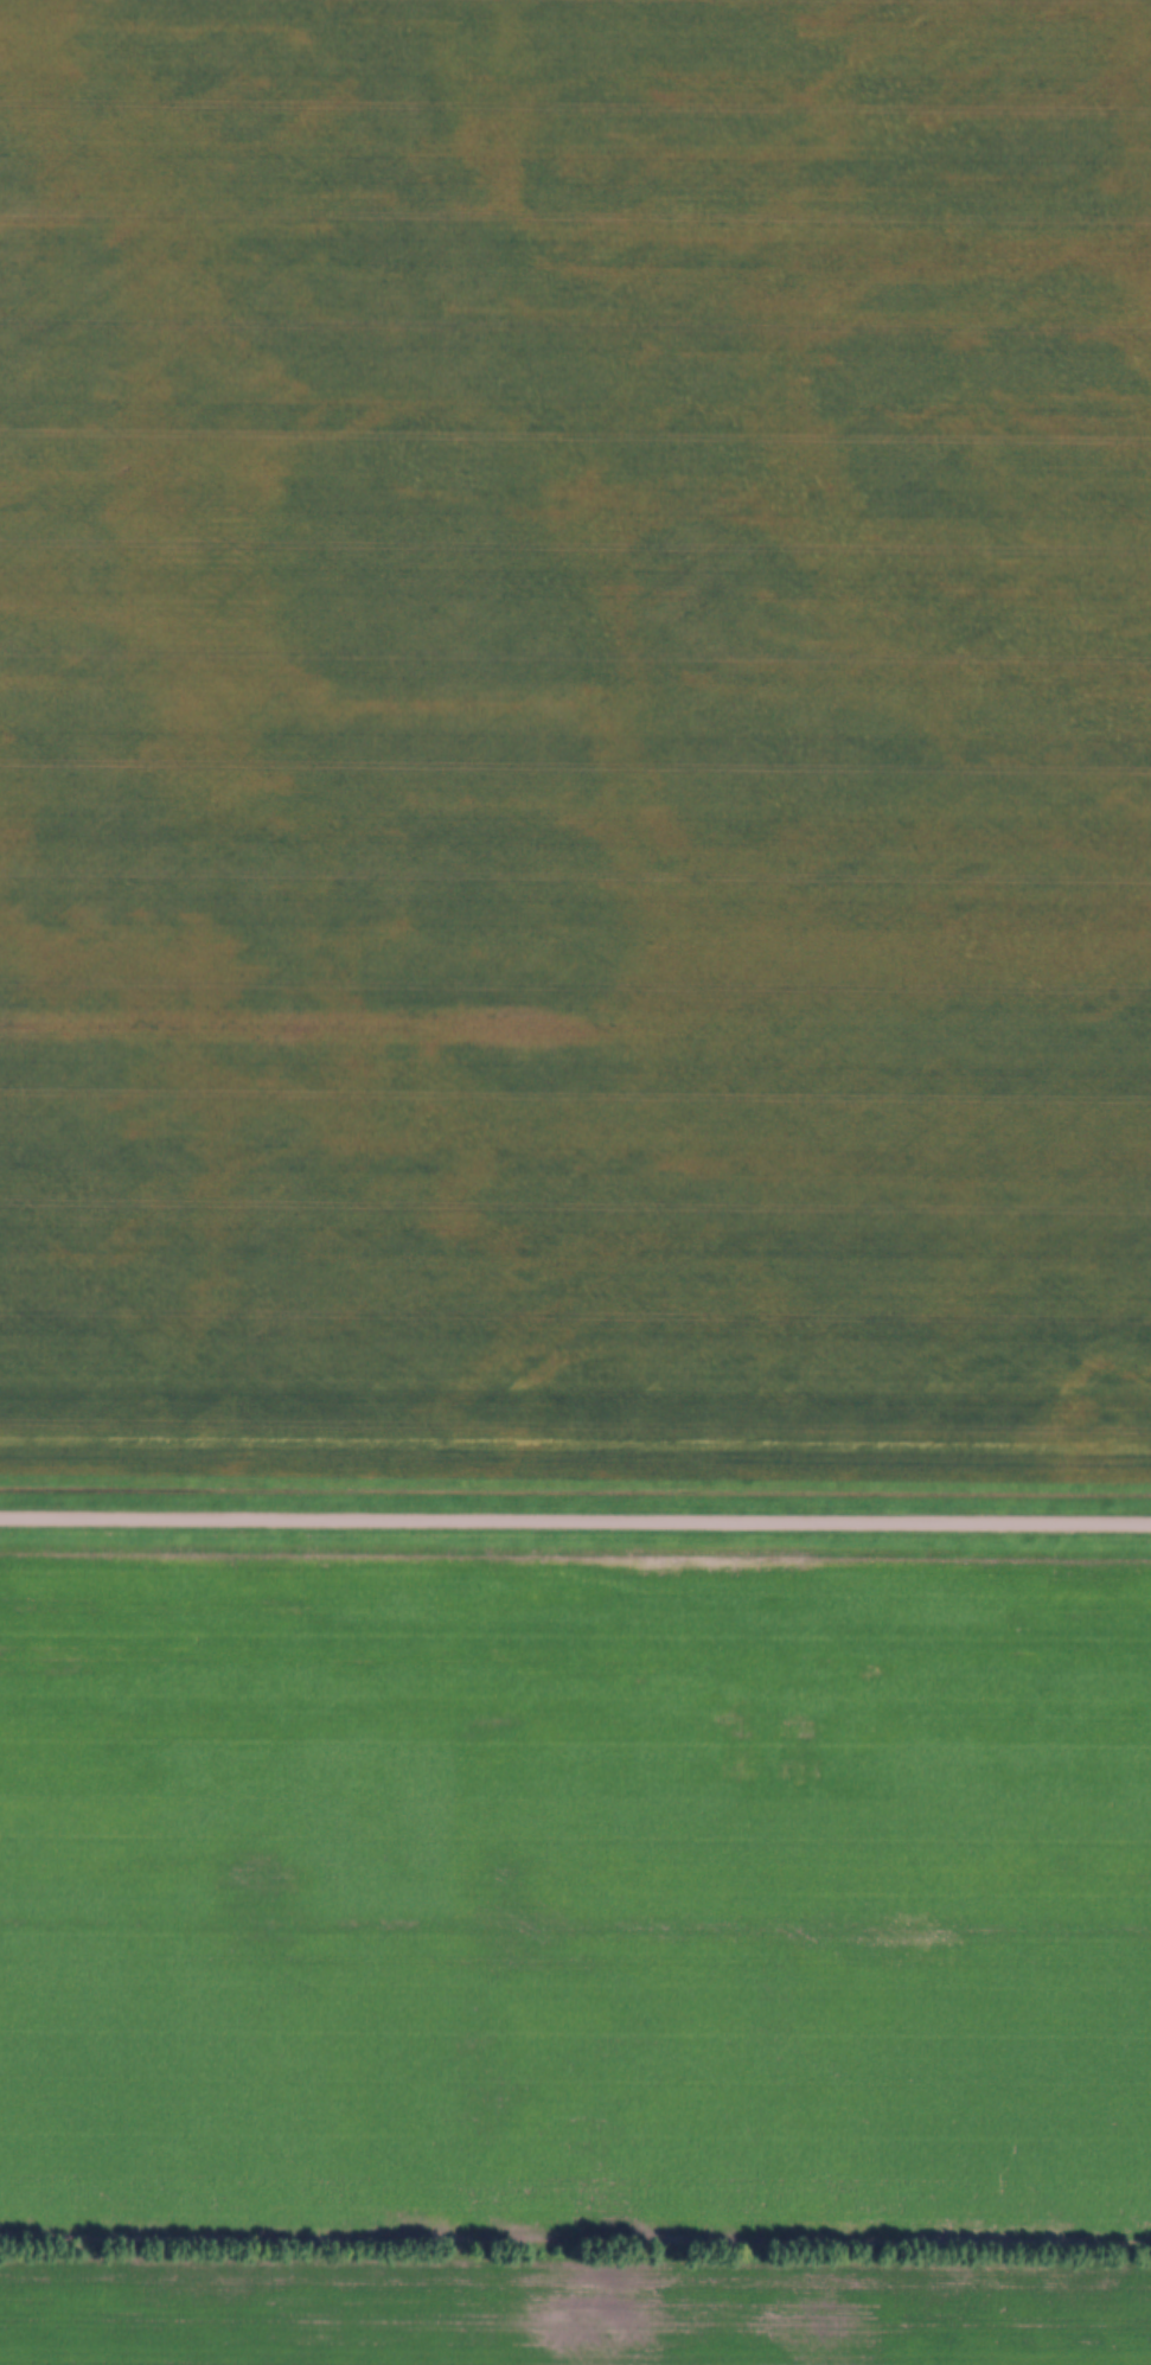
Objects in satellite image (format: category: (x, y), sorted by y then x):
road: (575, 1523)

